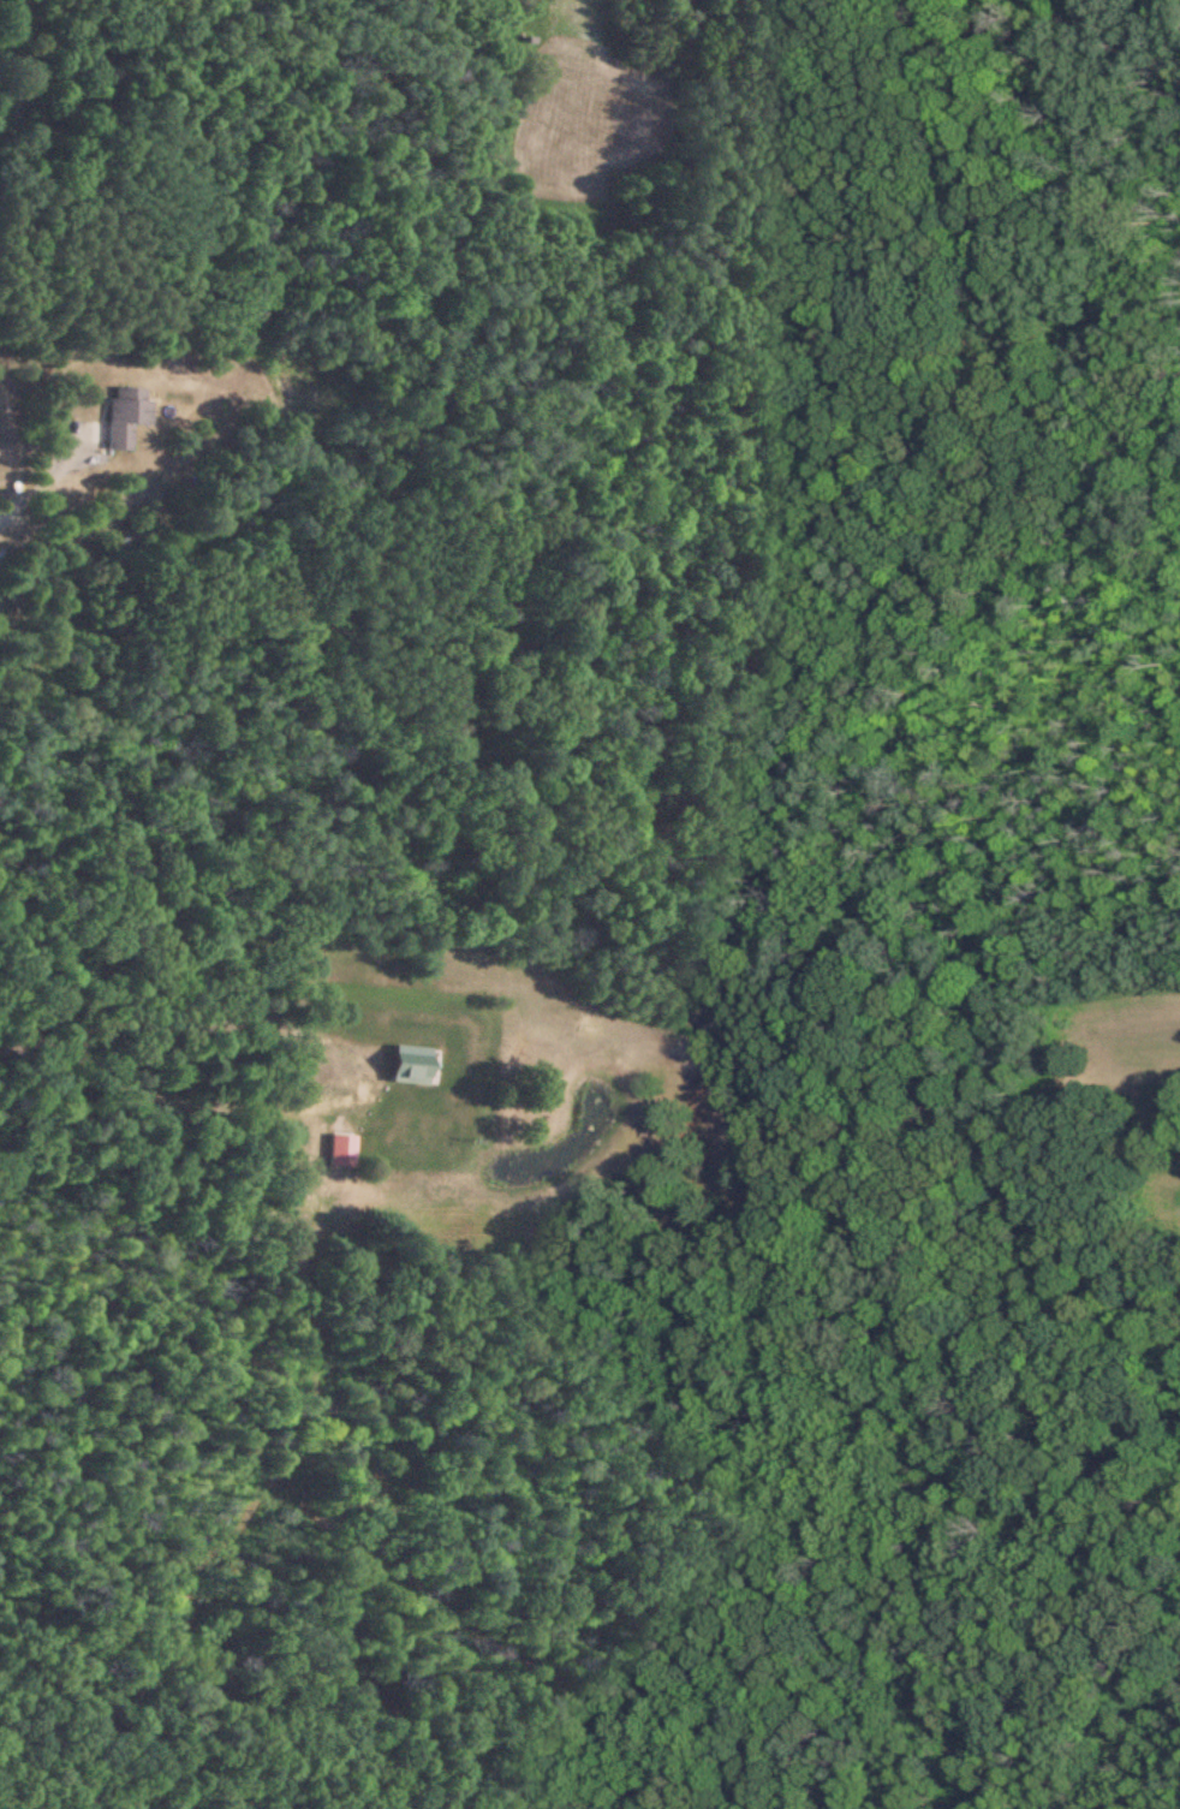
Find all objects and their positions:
building: (125, 416)
building: (411, 1064)
building: (338, 1150)

